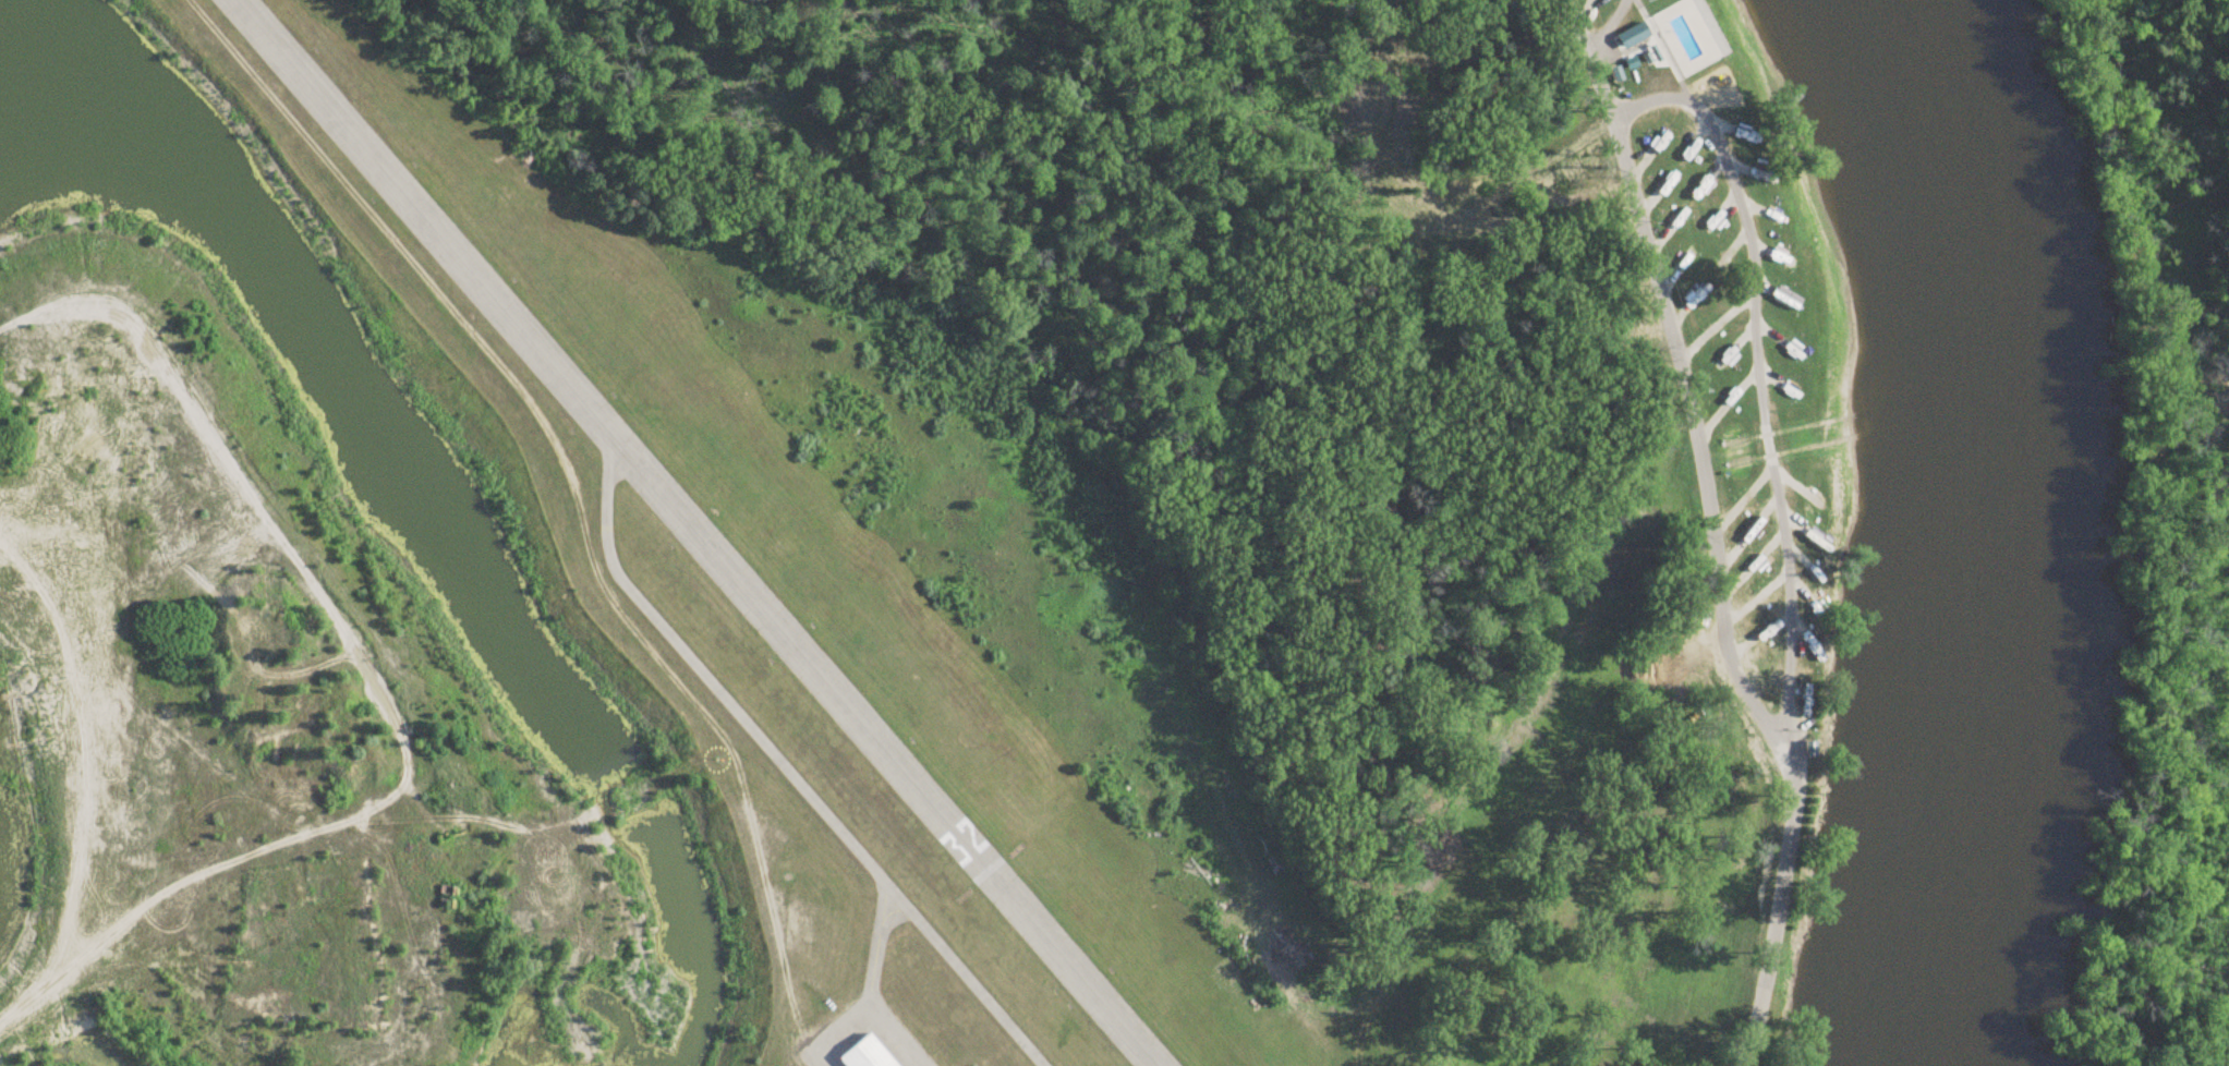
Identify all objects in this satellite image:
road: (1610, 28)
road: (1580, 31)
road: (1606, 102)
road: (1655, 102)
river: (1955, 171)
building: (1752, 459)
road: (565, 500)
airport taxiway: (601, 526)
airport runway: (670, 532)
airport runway: (719, 533)
road: (373, 685)
river: (1970, 710)
road: (83, 736)
road: (545, 800)
road: (1779, 917)
road: (146, 1009)
airport apron: (867, 1040)
airport hangar: (864, 1056)
building: (864, 1056)

